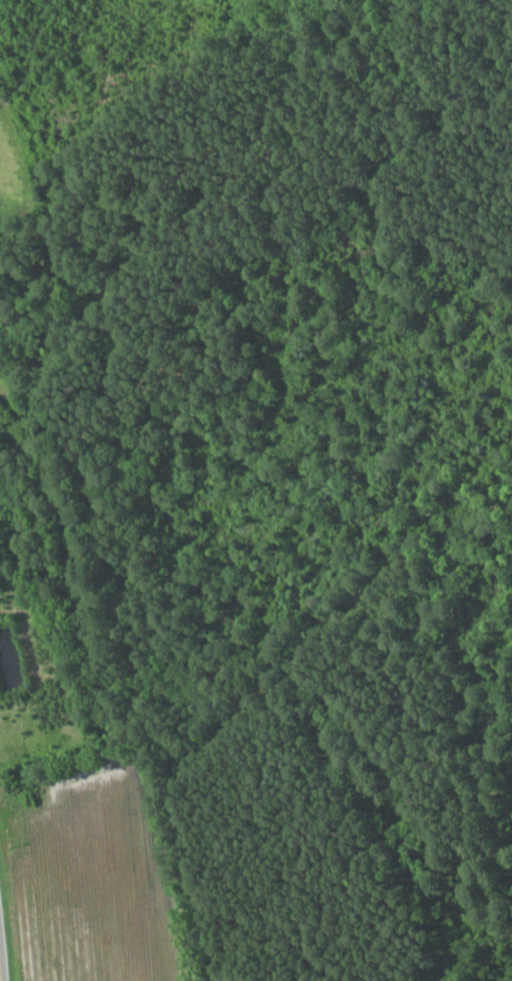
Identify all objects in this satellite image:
road: (0, 975)

